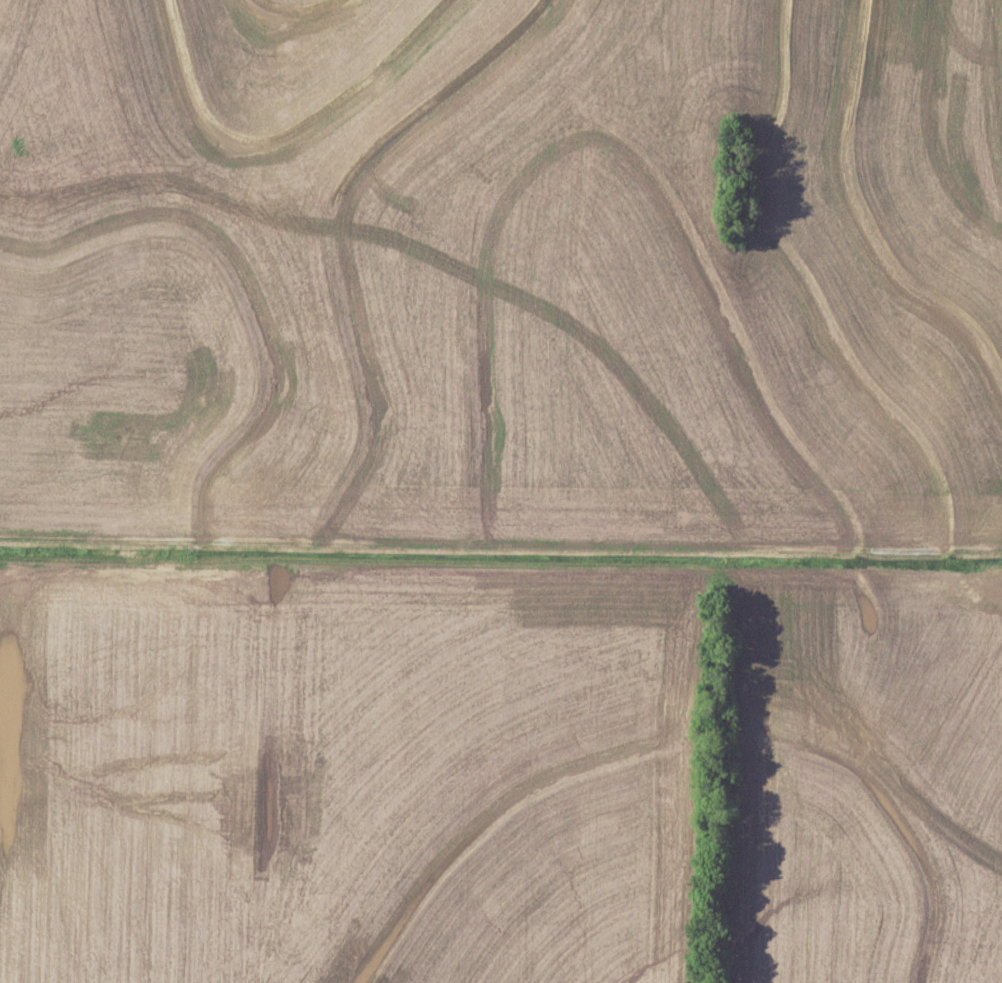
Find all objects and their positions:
road: (500, 549)

